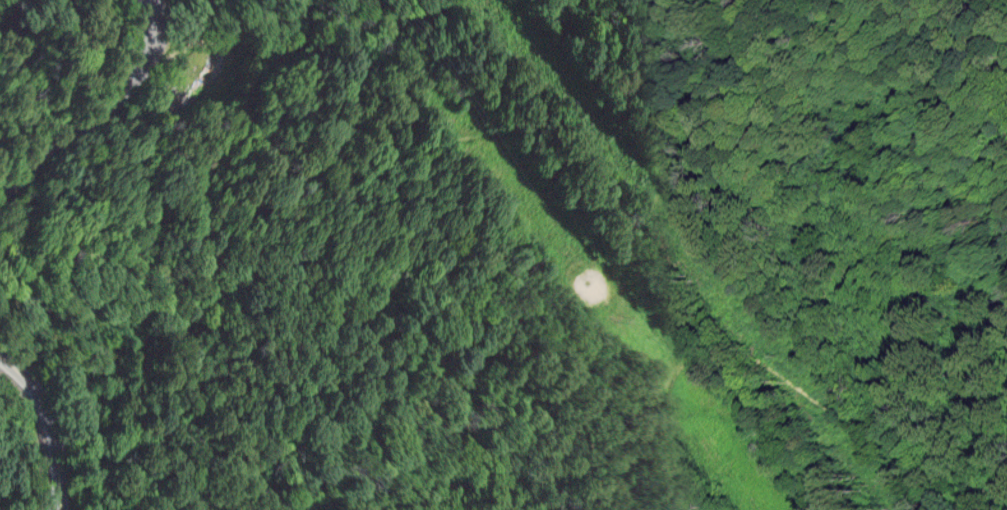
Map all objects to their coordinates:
road: (99, 108)
road: (48, 425)

